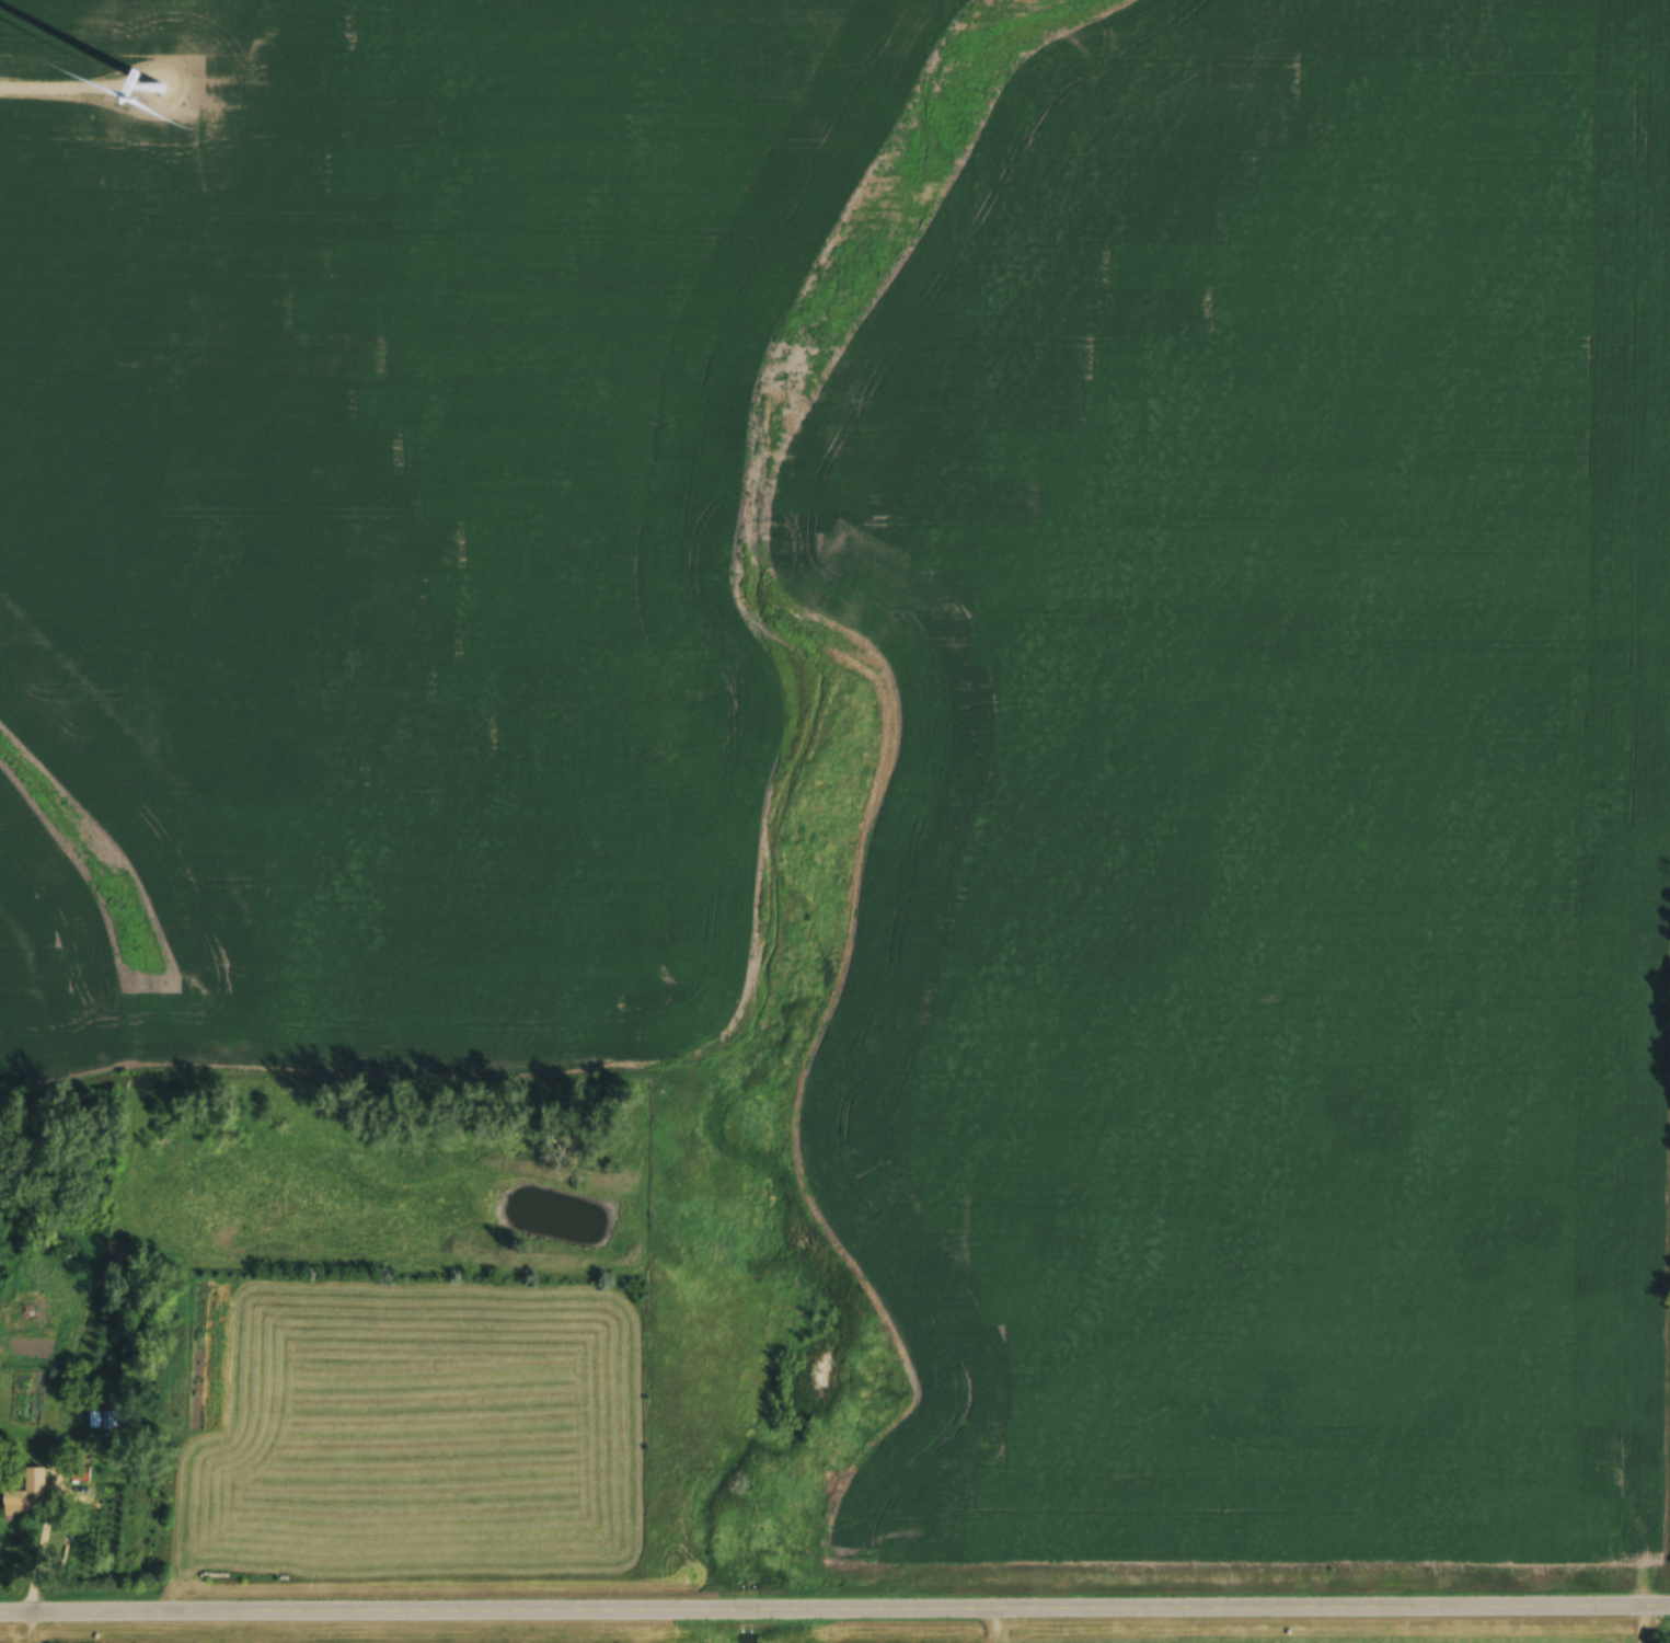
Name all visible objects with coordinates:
wind turbine: (160, 93)
building: (111, 1423)
building: (26, 1497)
road: (834, 1613)

